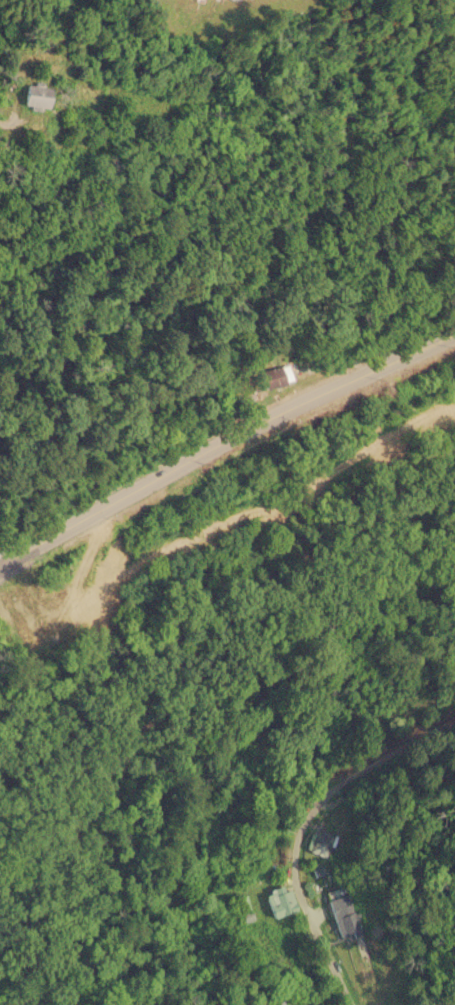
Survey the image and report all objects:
building: (33, 95)
building: (275, 376)
building: (149, 407)
road: (223, 440)
road: (301, 827)
building: (321, 843)
building: (280, 902)
building: (344, 913)
building: (282, 1002)

